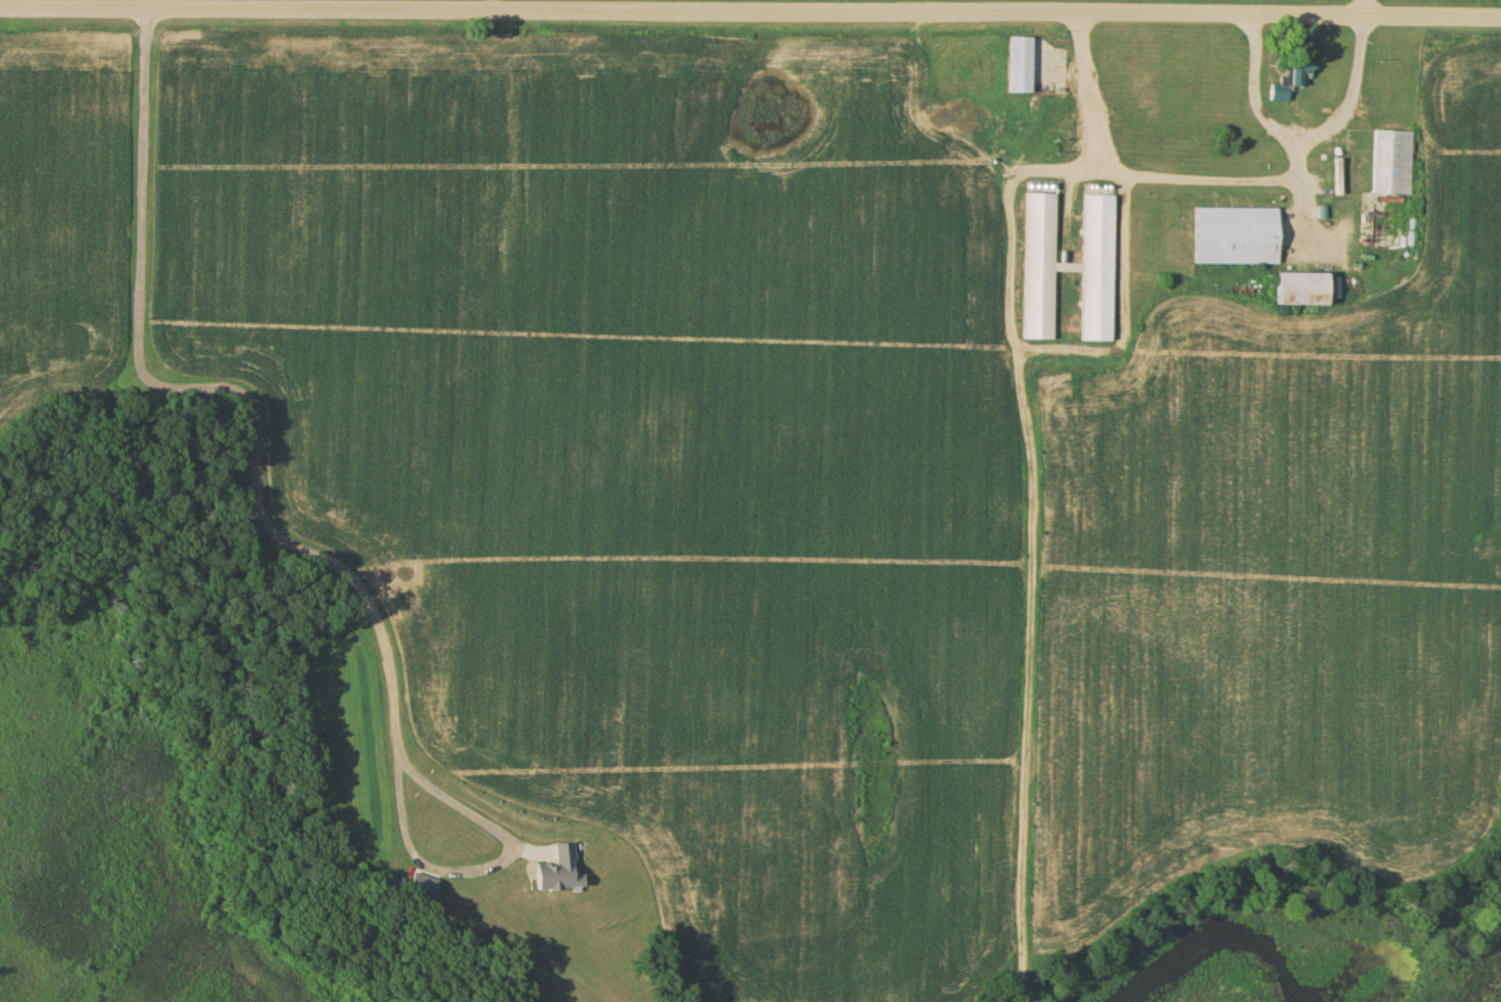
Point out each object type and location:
road: (750, 14)
building: (1018, 65)
building: (1290, 81)
road: (1350, 89)
road: (1264, 114)
building: (1391, 164)
building: (1233, 237)
building: (1068, 268)
building: (1307, 291)
road: (287, 536)
river: (1217, 931)

